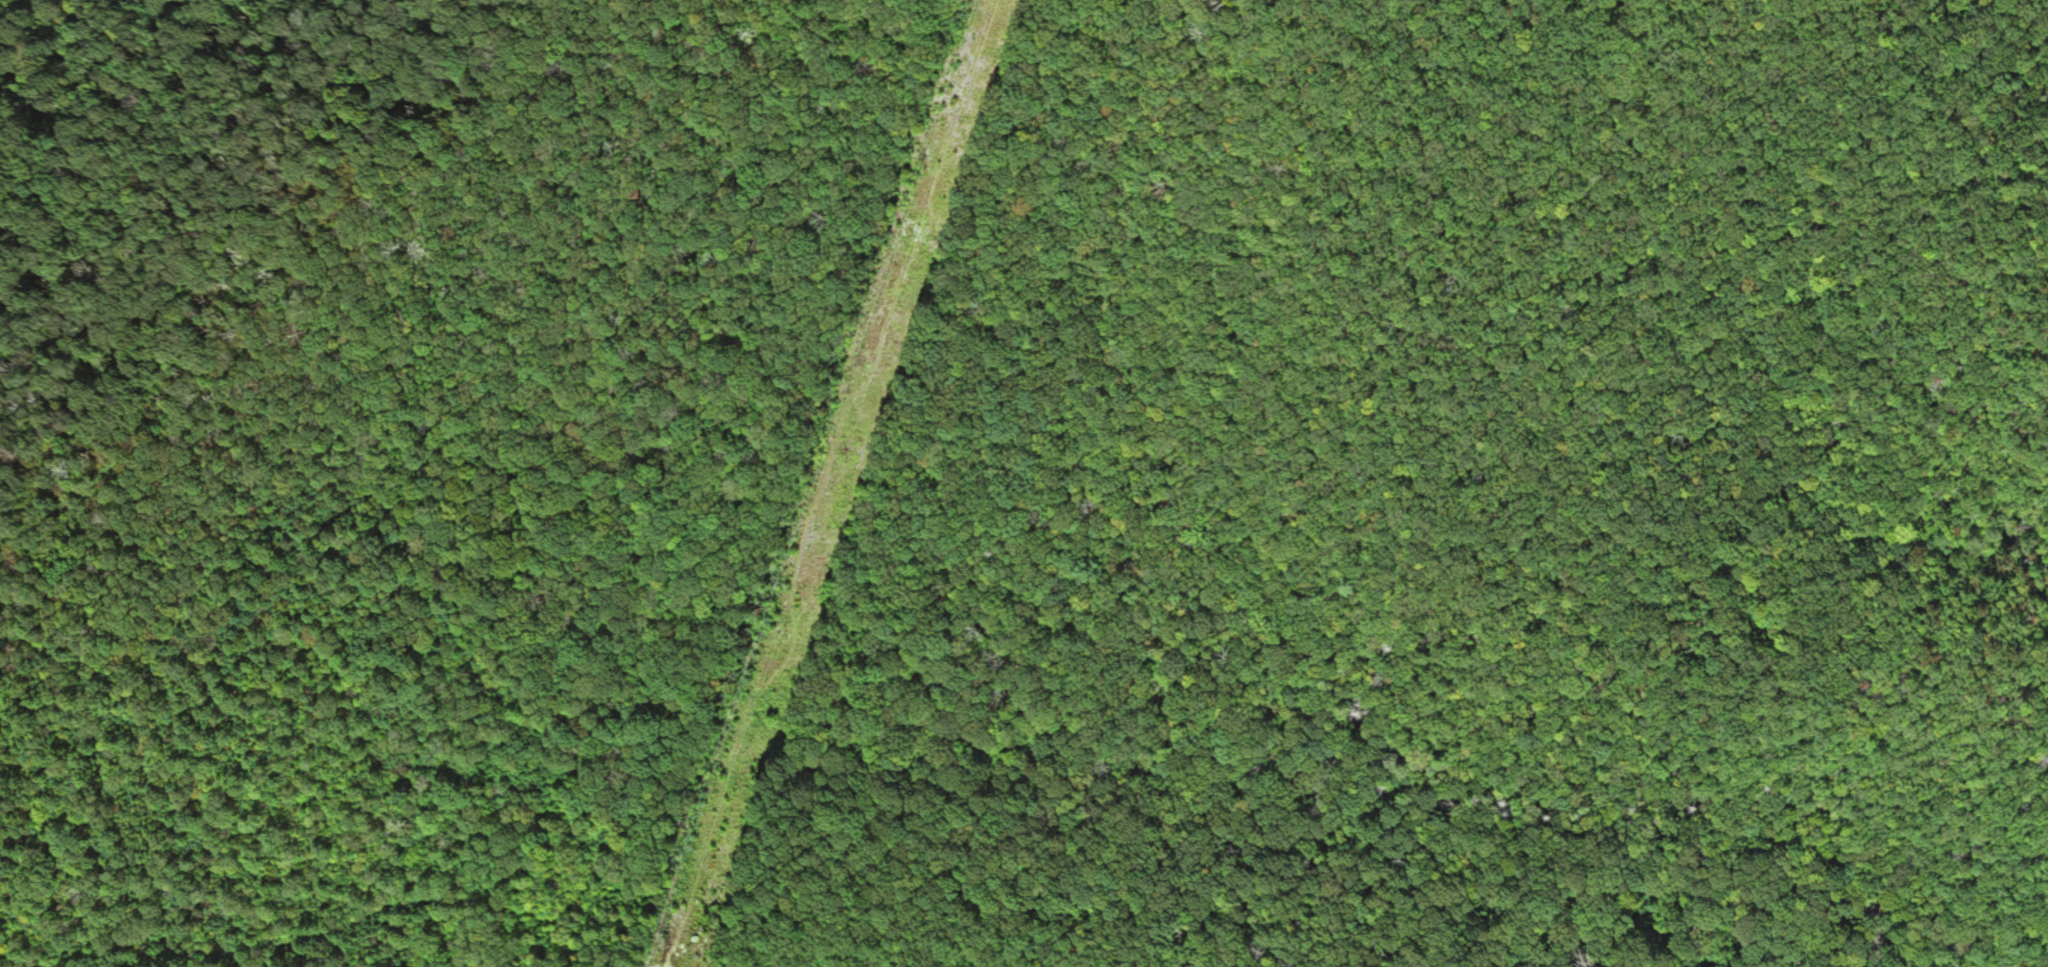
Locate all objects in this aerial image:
road: (982, 719)

